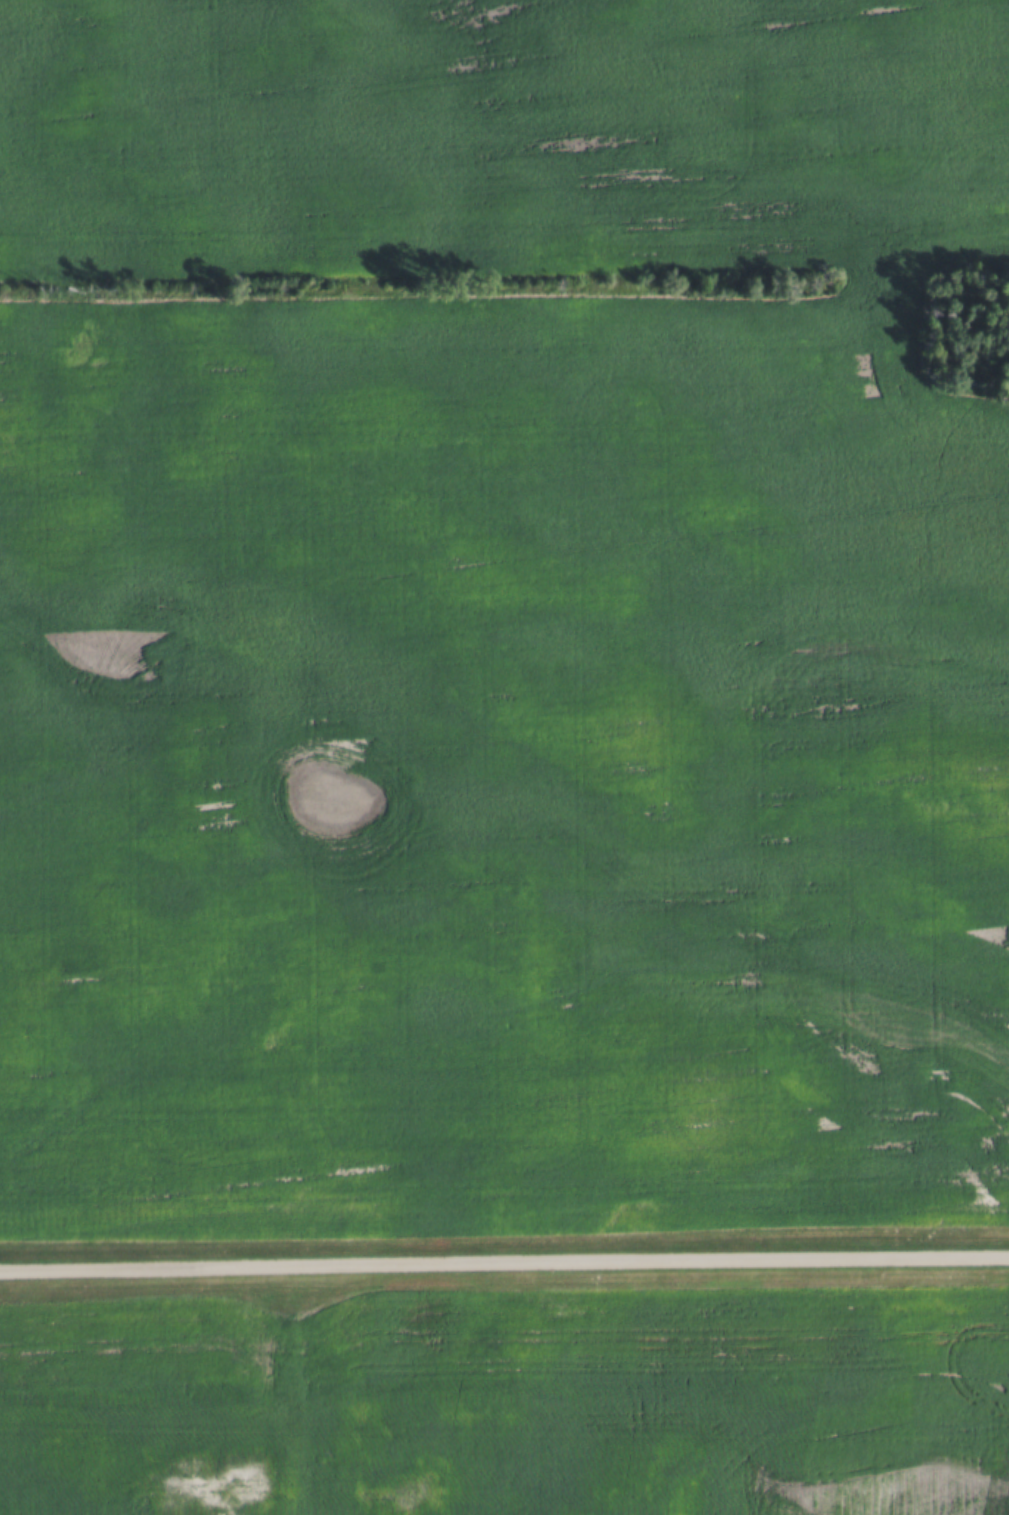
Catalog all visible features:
road: (504, 1262)

